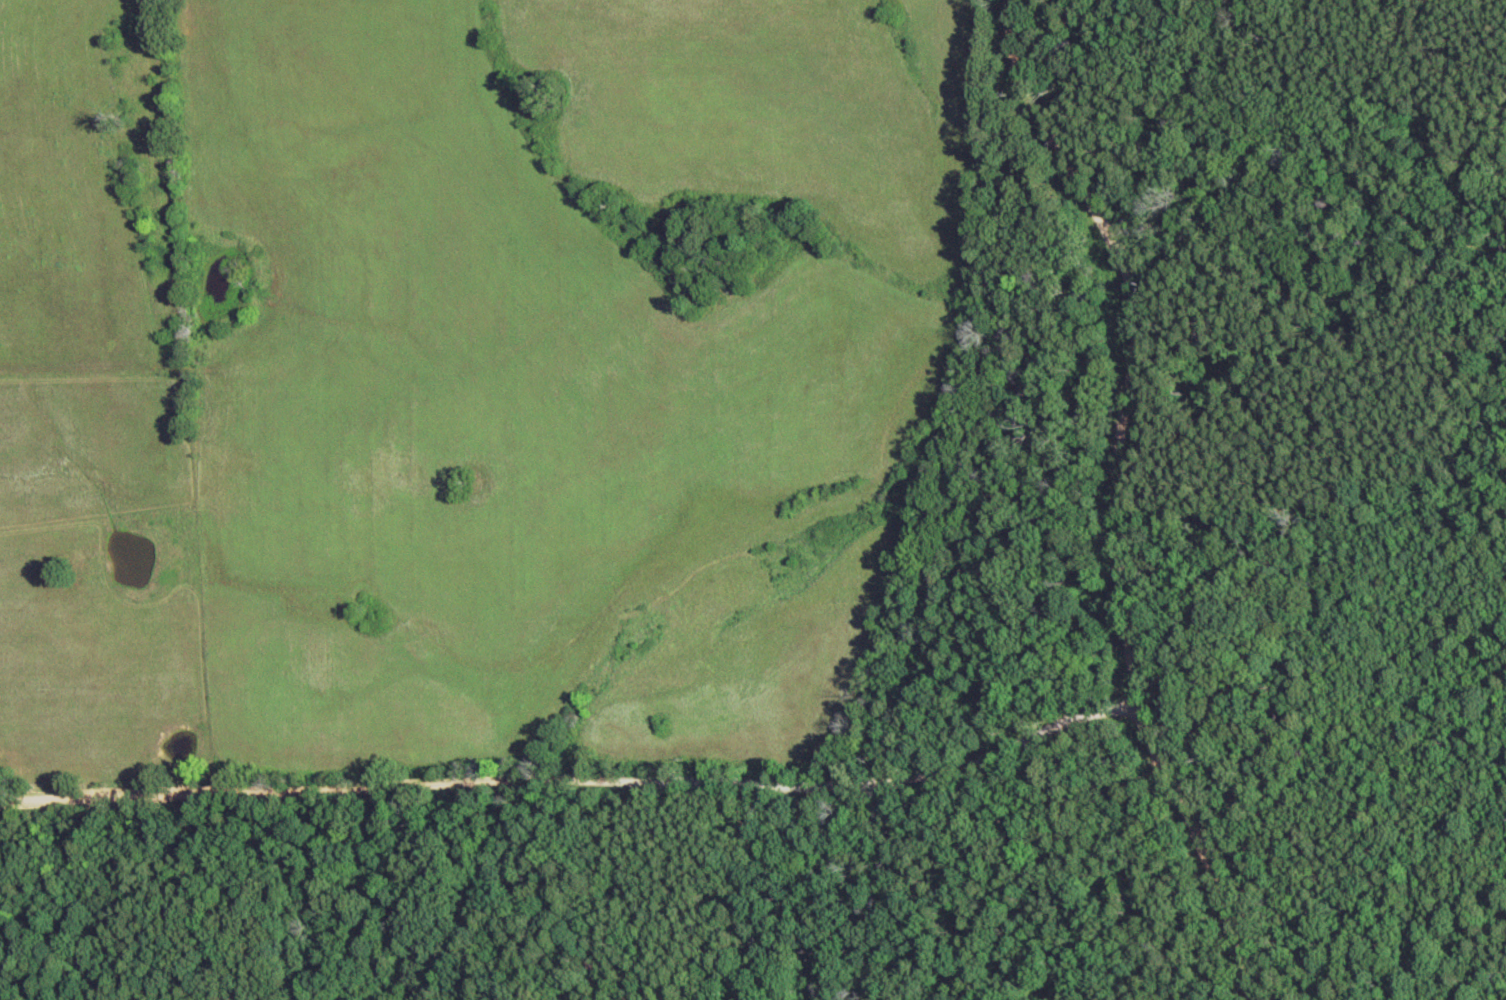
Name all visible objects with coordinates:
road: (1117, 494)
road: (564, 778)

